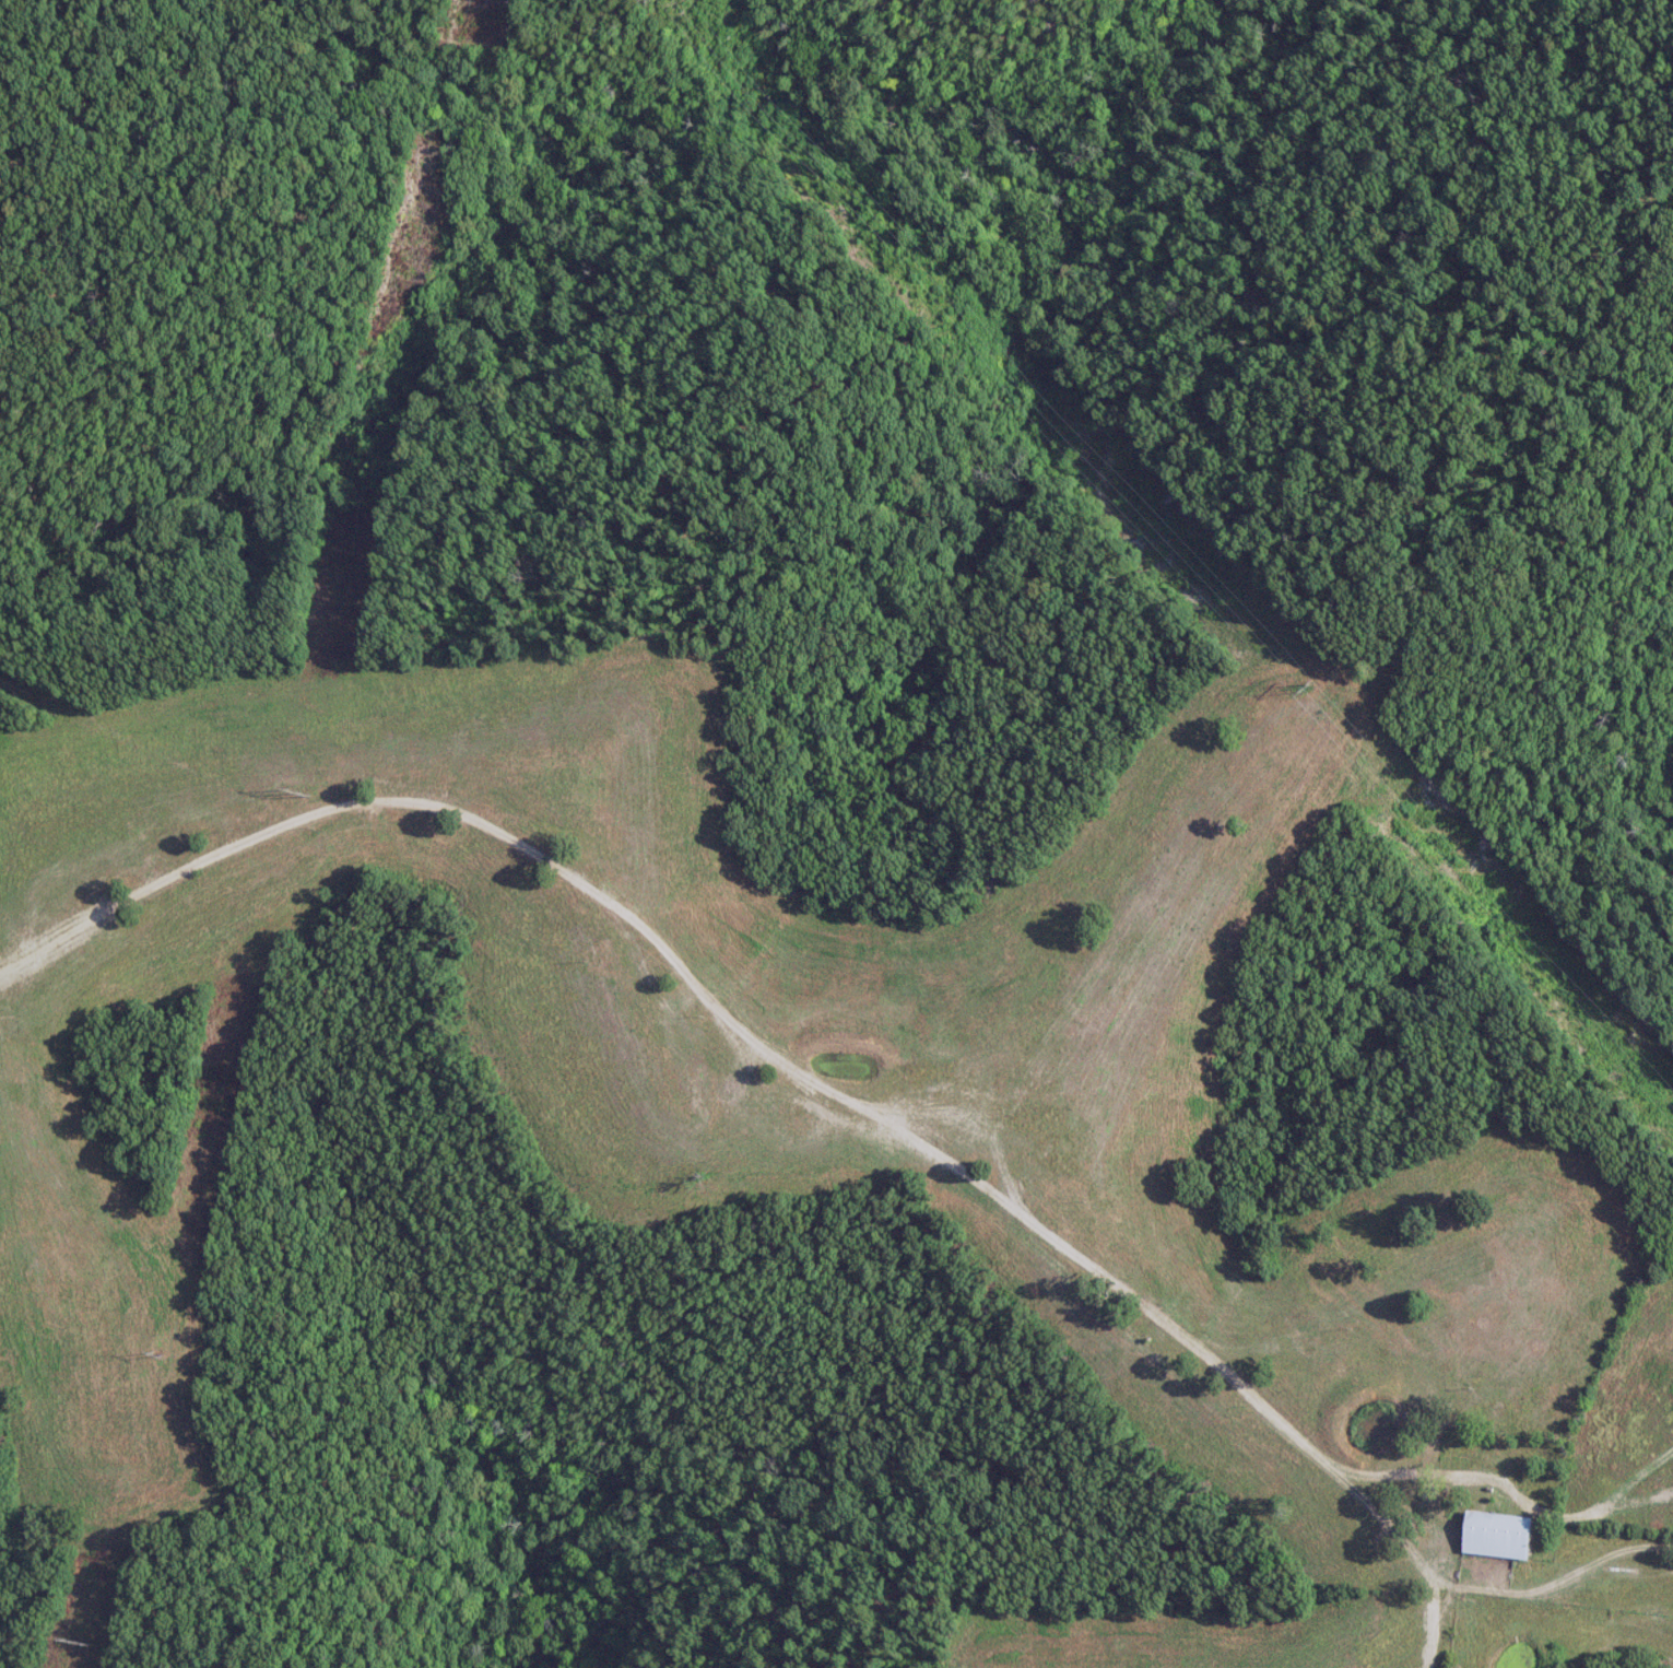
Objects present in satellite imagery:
power tower: (1309, 689)
power tower: (298, 792)
building: (1494, 1534)

